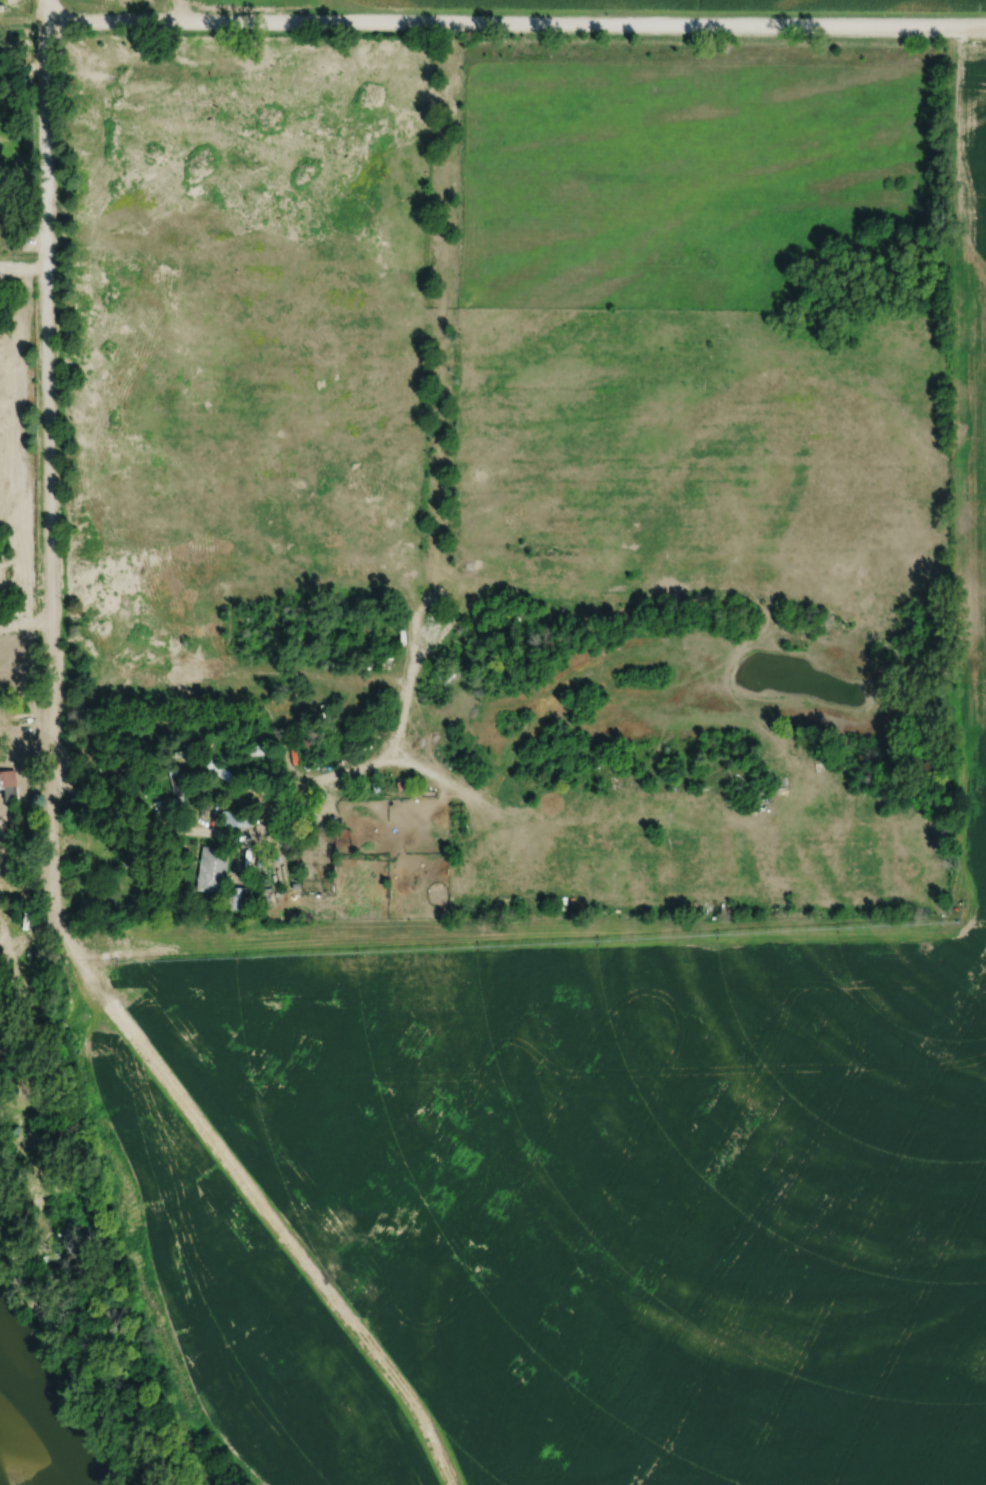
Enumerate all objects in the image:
road: (512, 26)
building: (2, 203)
road: (22, 266)
road: (22, 319)
road: (47, 458)
building: (362, 734)
building: (333, 741)
building: (251, 752)
building: (120, 766)
building: (224, 774)
building: (8, 786)
building: (178, 790)
road: (27, 813)
building: (234, 819)
road: (162, 826)
building: (212, 869)
building: (237, 898)

